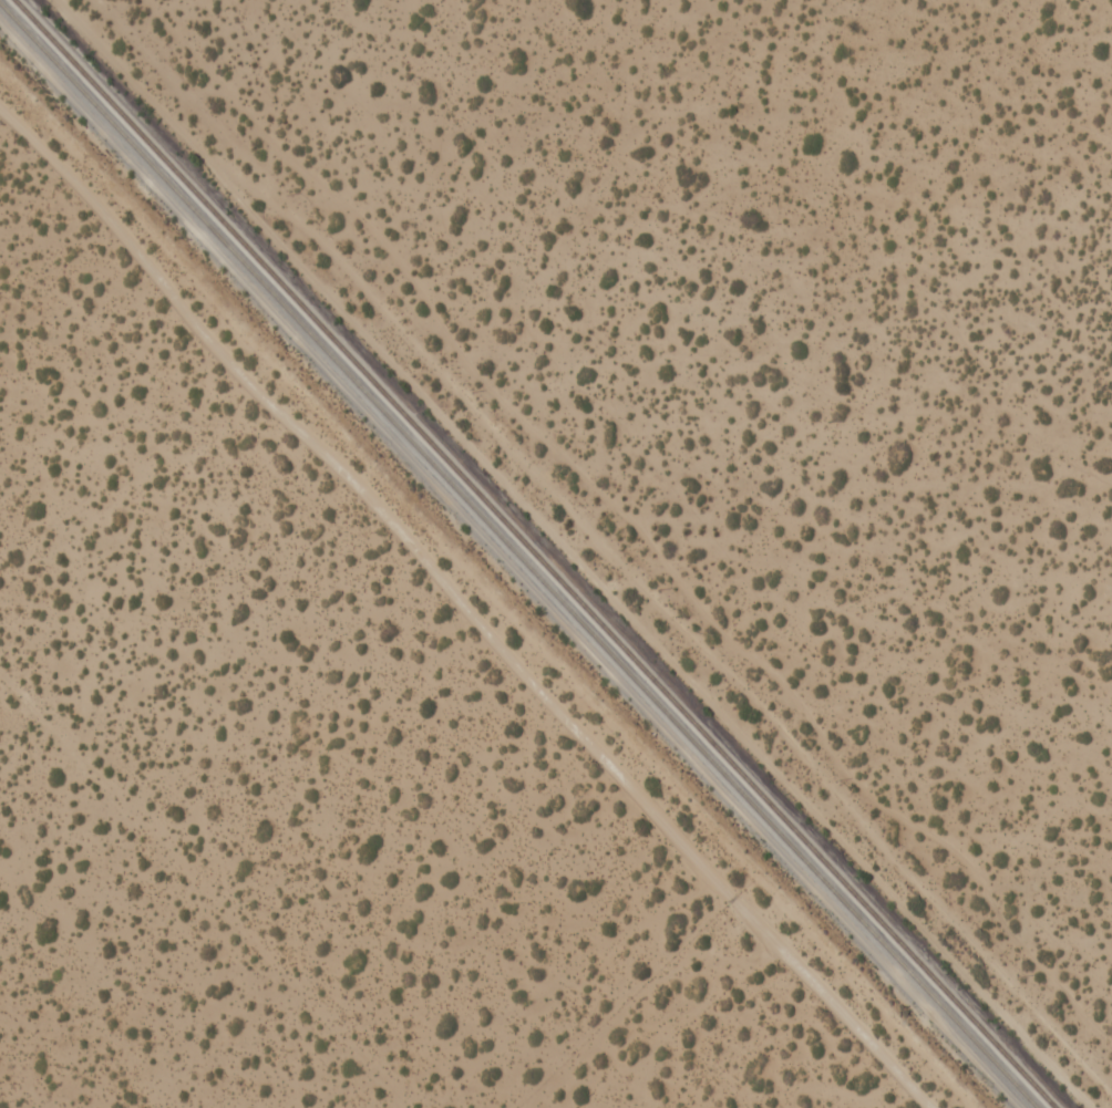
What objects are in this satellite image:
road: (621, 525)
railway: (532, 553)
road: (558, 555)
railway: (517, 556)
road: (462, 614)

